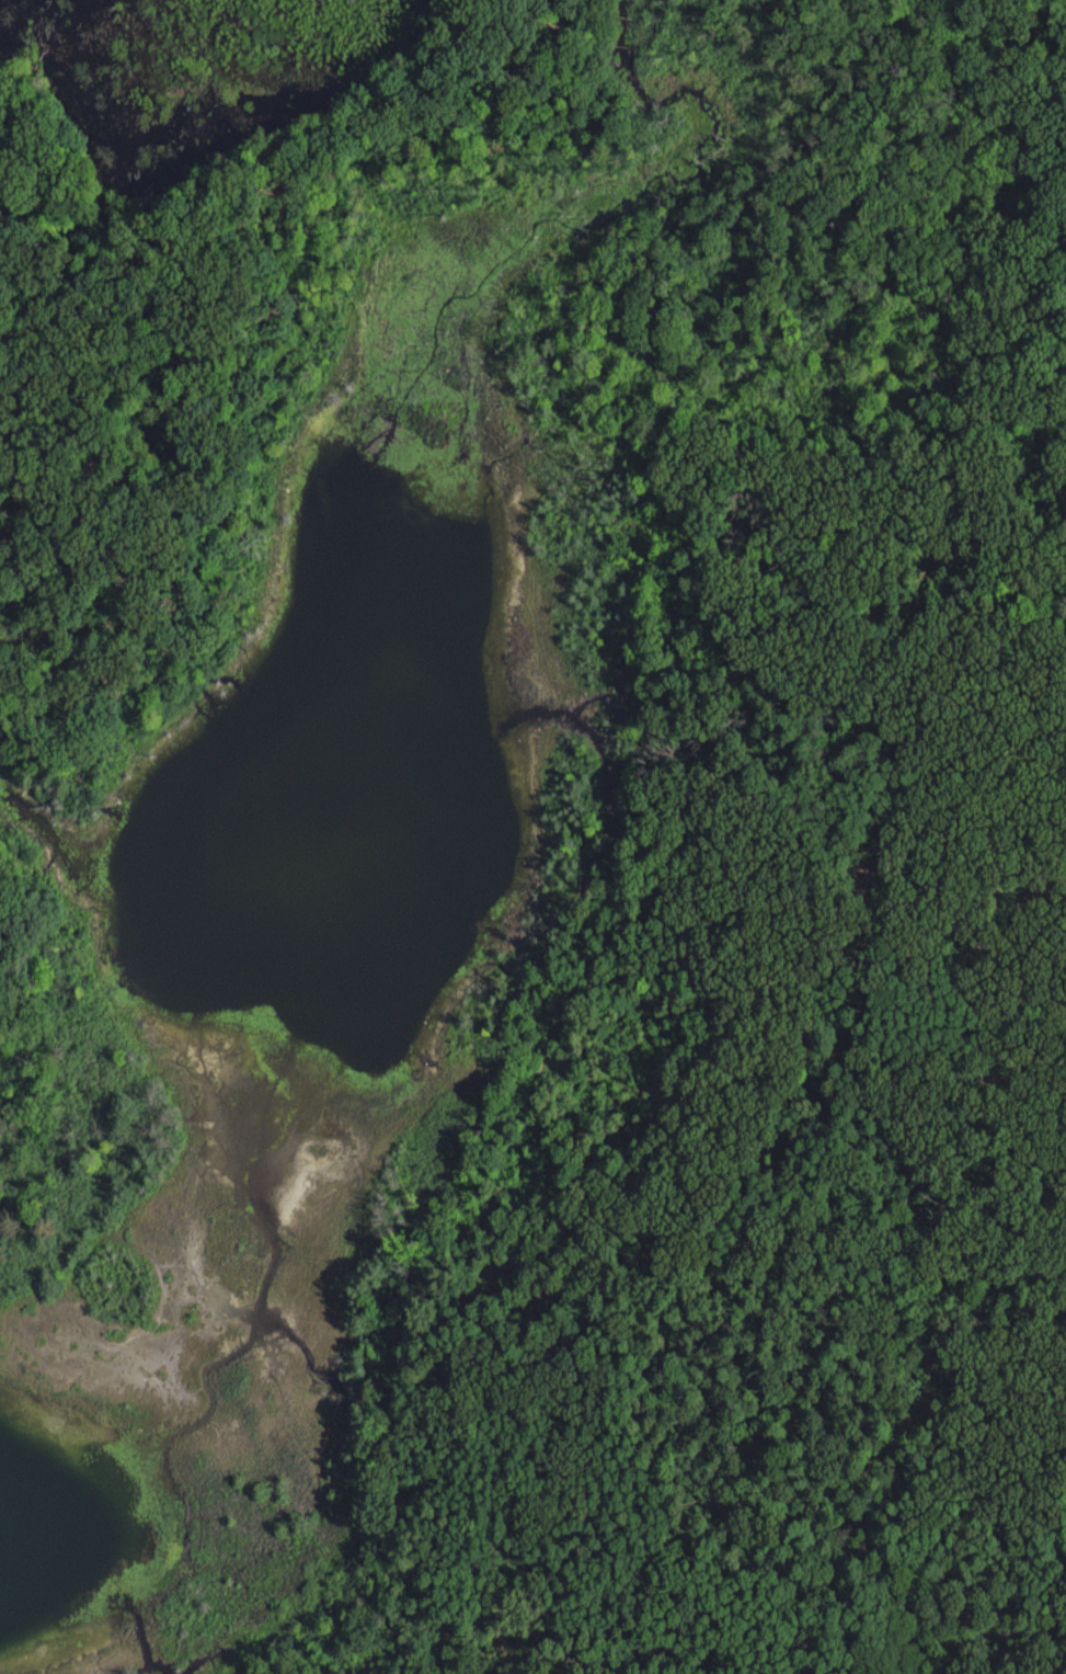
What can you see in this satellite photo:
road: (1061, 33)
road: (225, 358)
road: (1054, 402)
road: (116, 634)
park: (532, 836)

